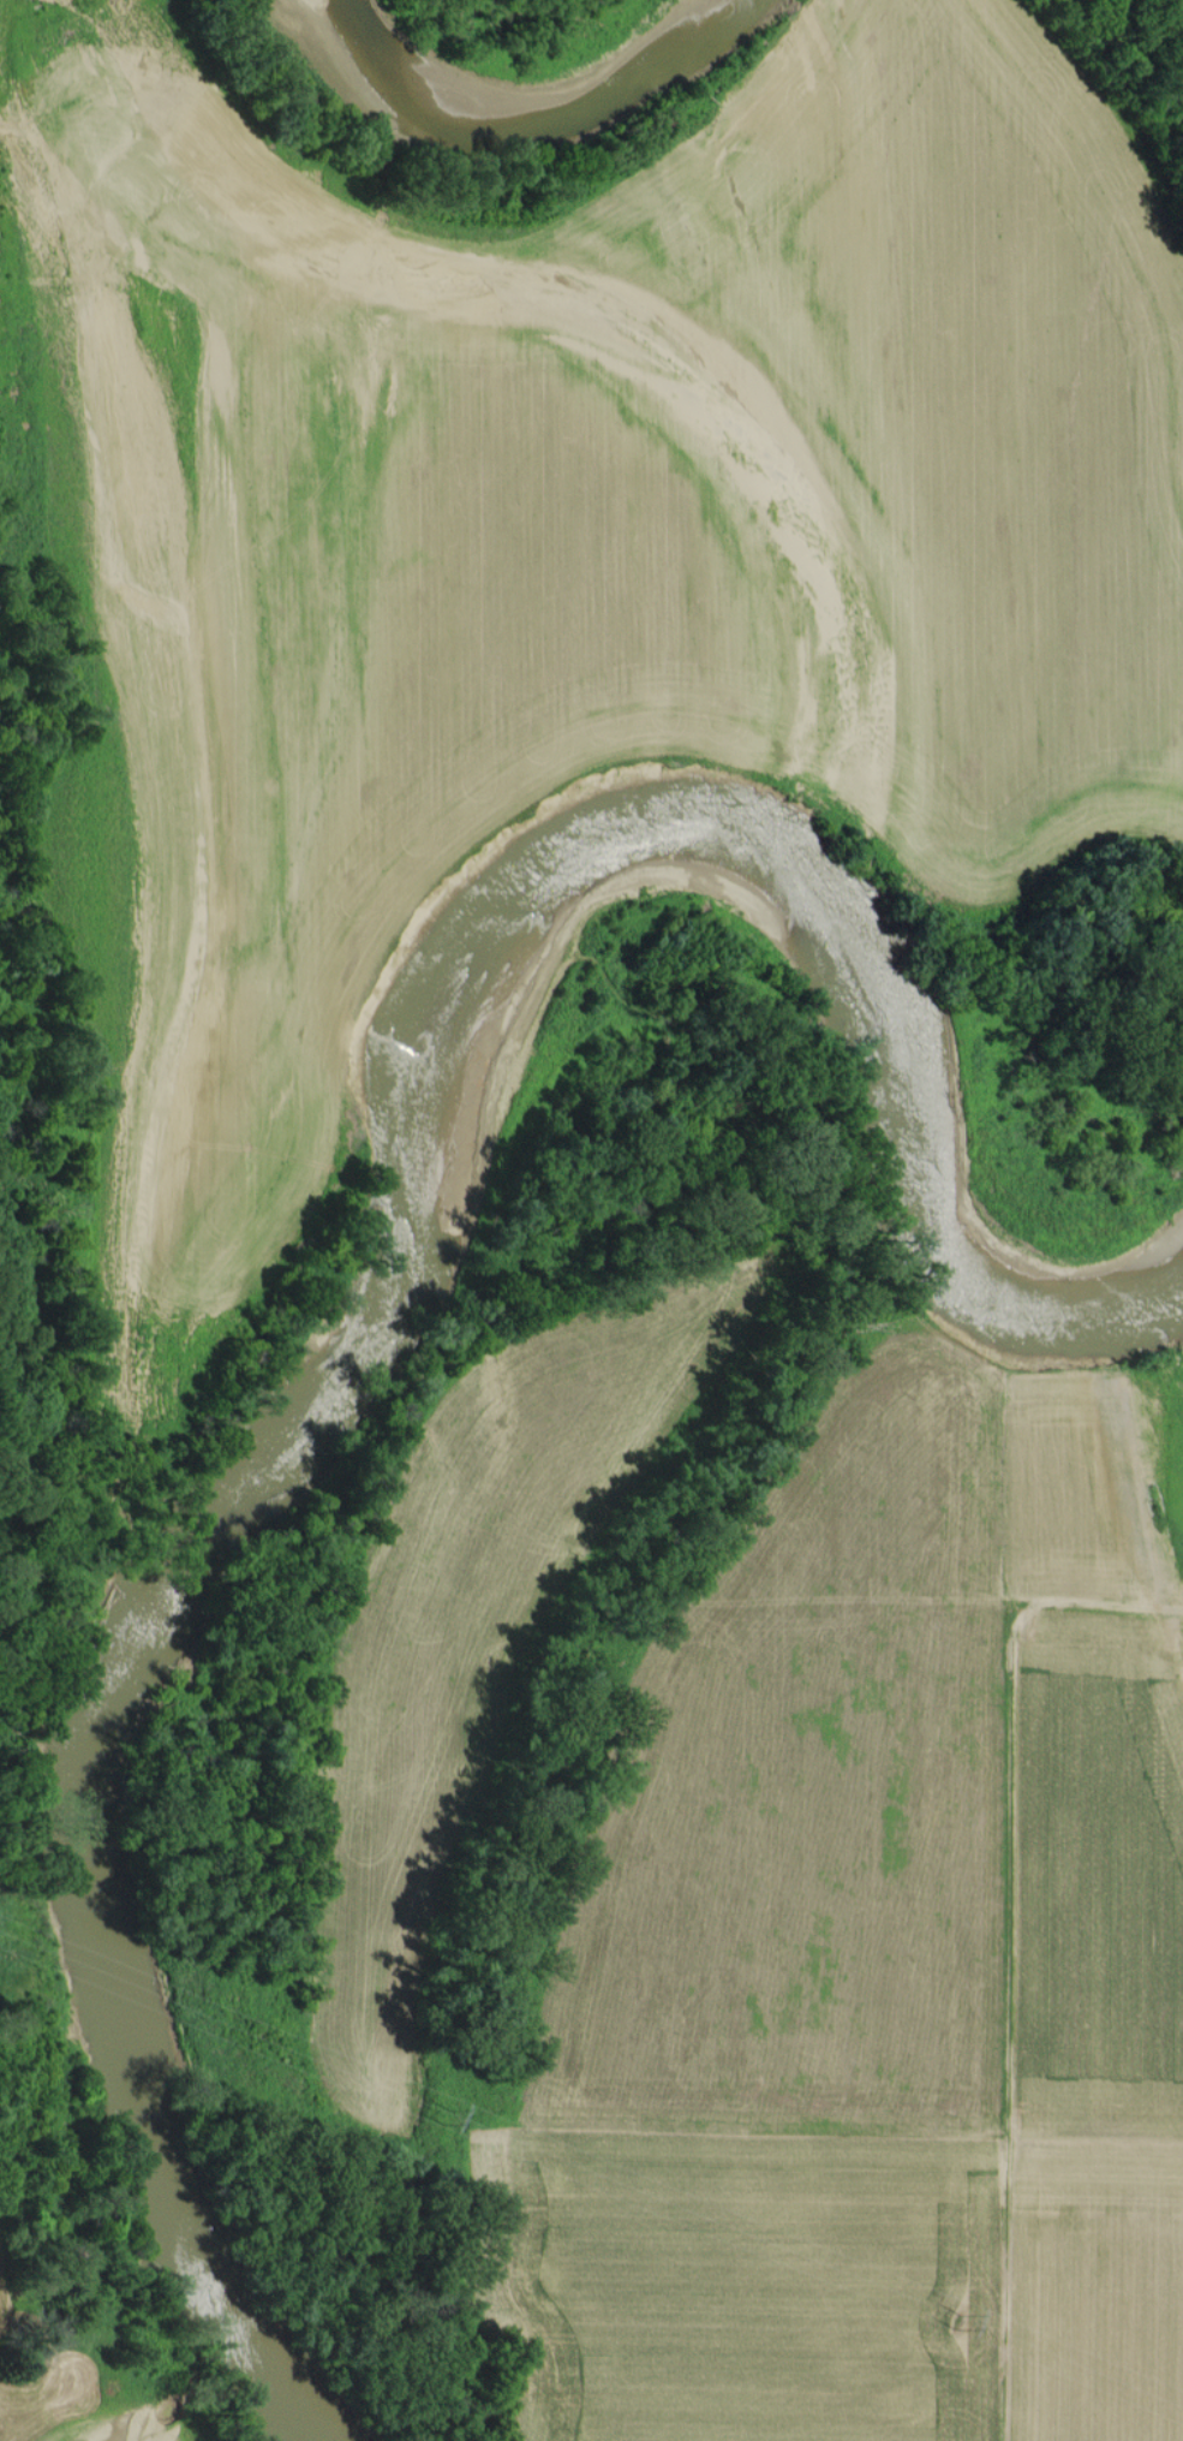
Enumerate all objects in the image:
river: (504, 102)
river: (375, 1309)
power tower: (444, 2112)
power tower: (956, 2318)
road: (1157, 2429)

